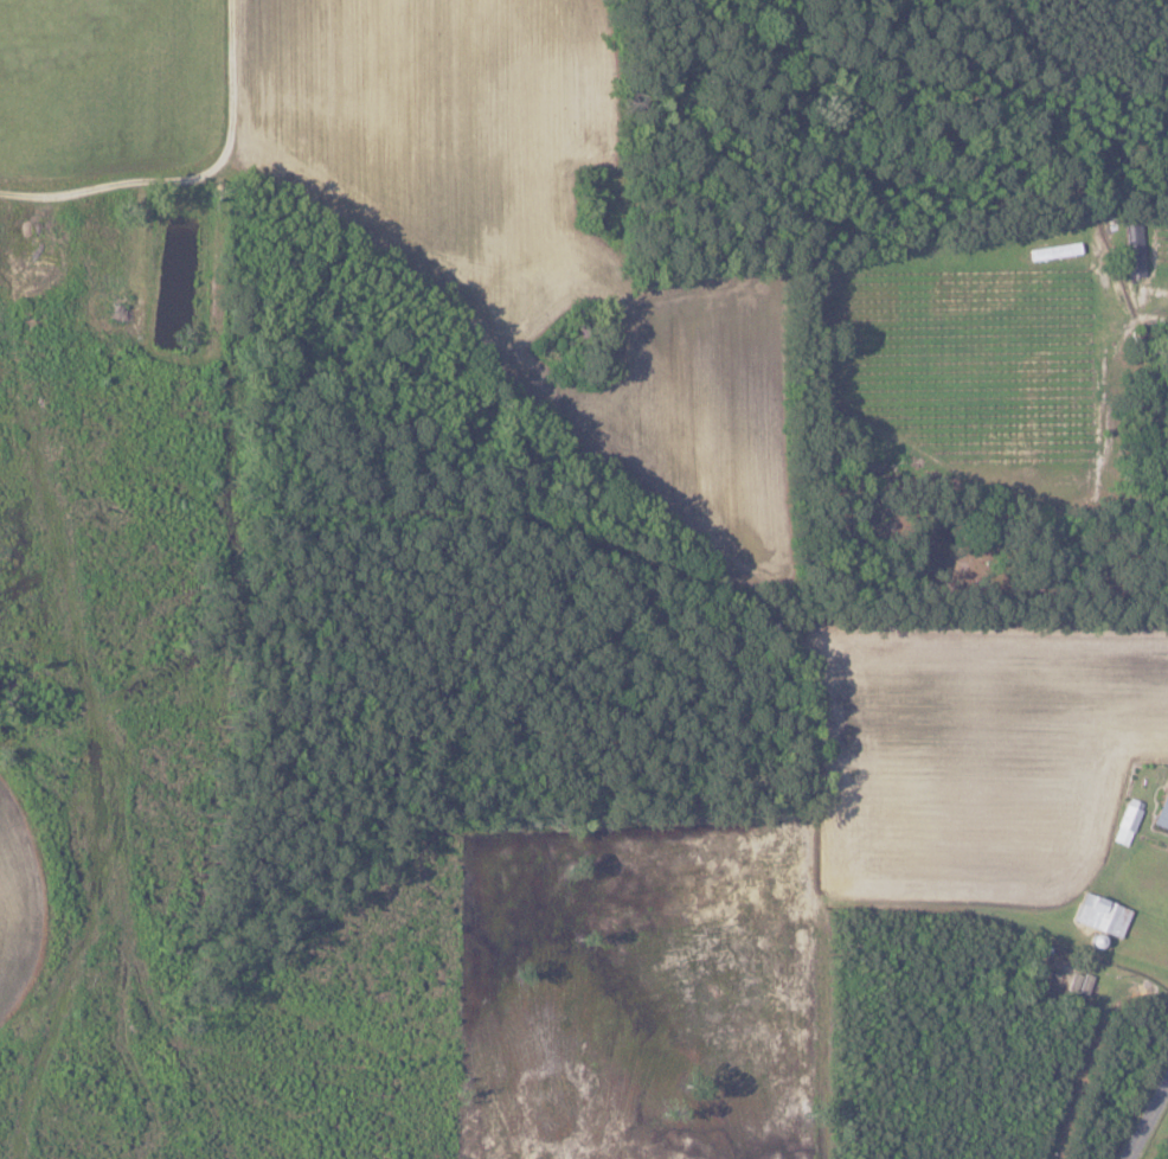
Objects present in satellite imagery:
road: (191, 177)
building: (1162, 812)
building: (1100, 915)
road: (1153, 1129)

